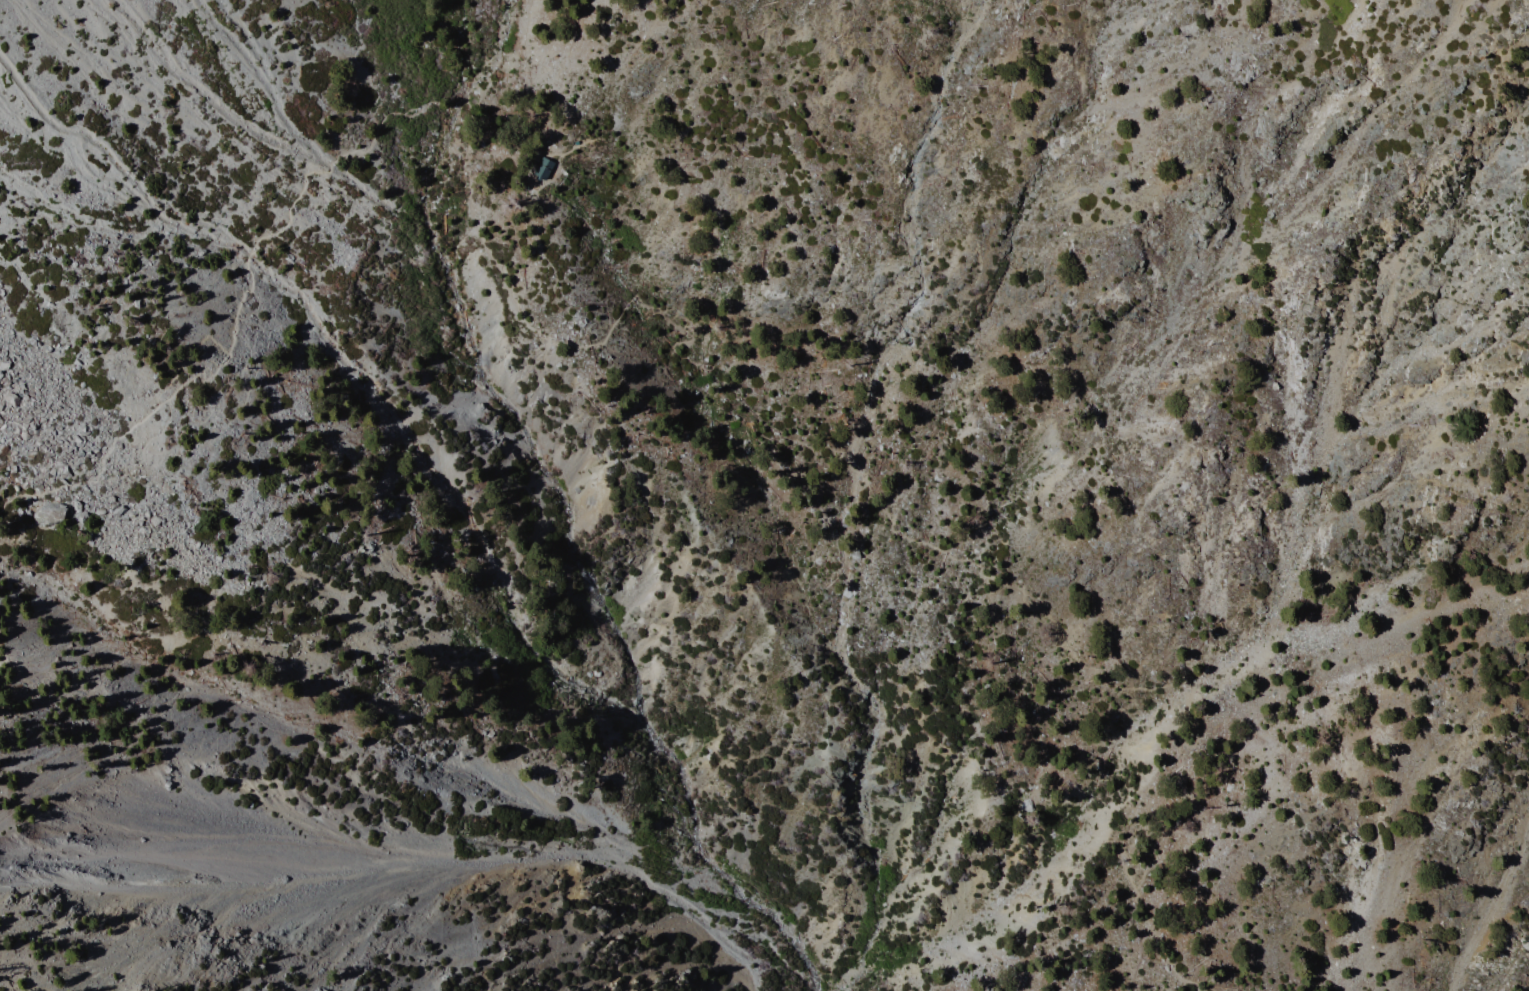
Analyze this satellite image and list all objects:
building: (574, 143)
road: (565, 153)
building: (544, 168)
road: (533, 182)
road: (683, 341)

